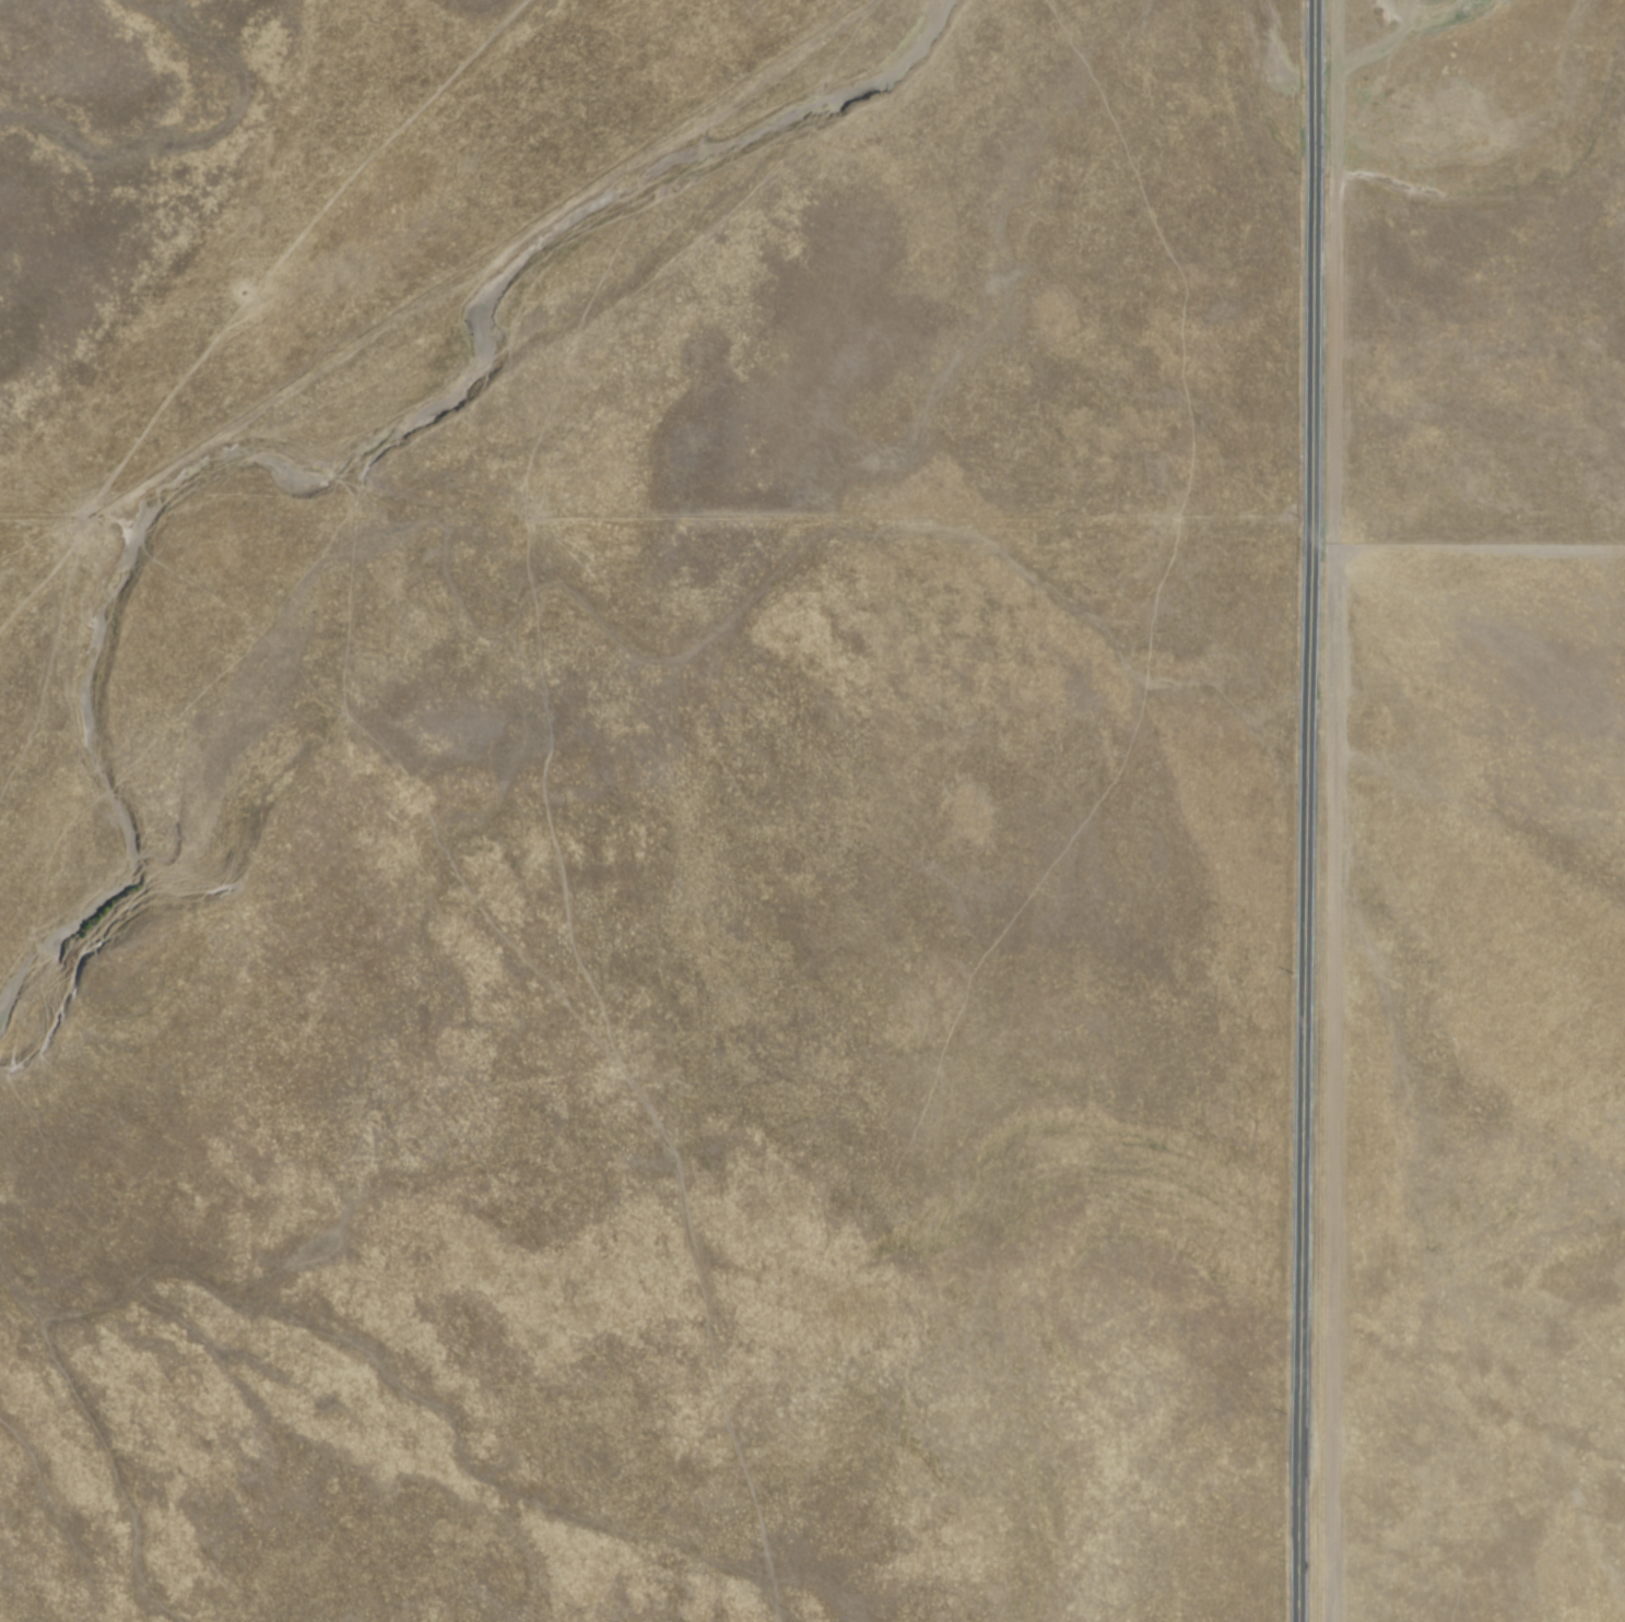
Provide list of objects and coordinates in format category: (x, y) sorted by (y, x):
crop: (1432, 23)
road: (1316, 810)

